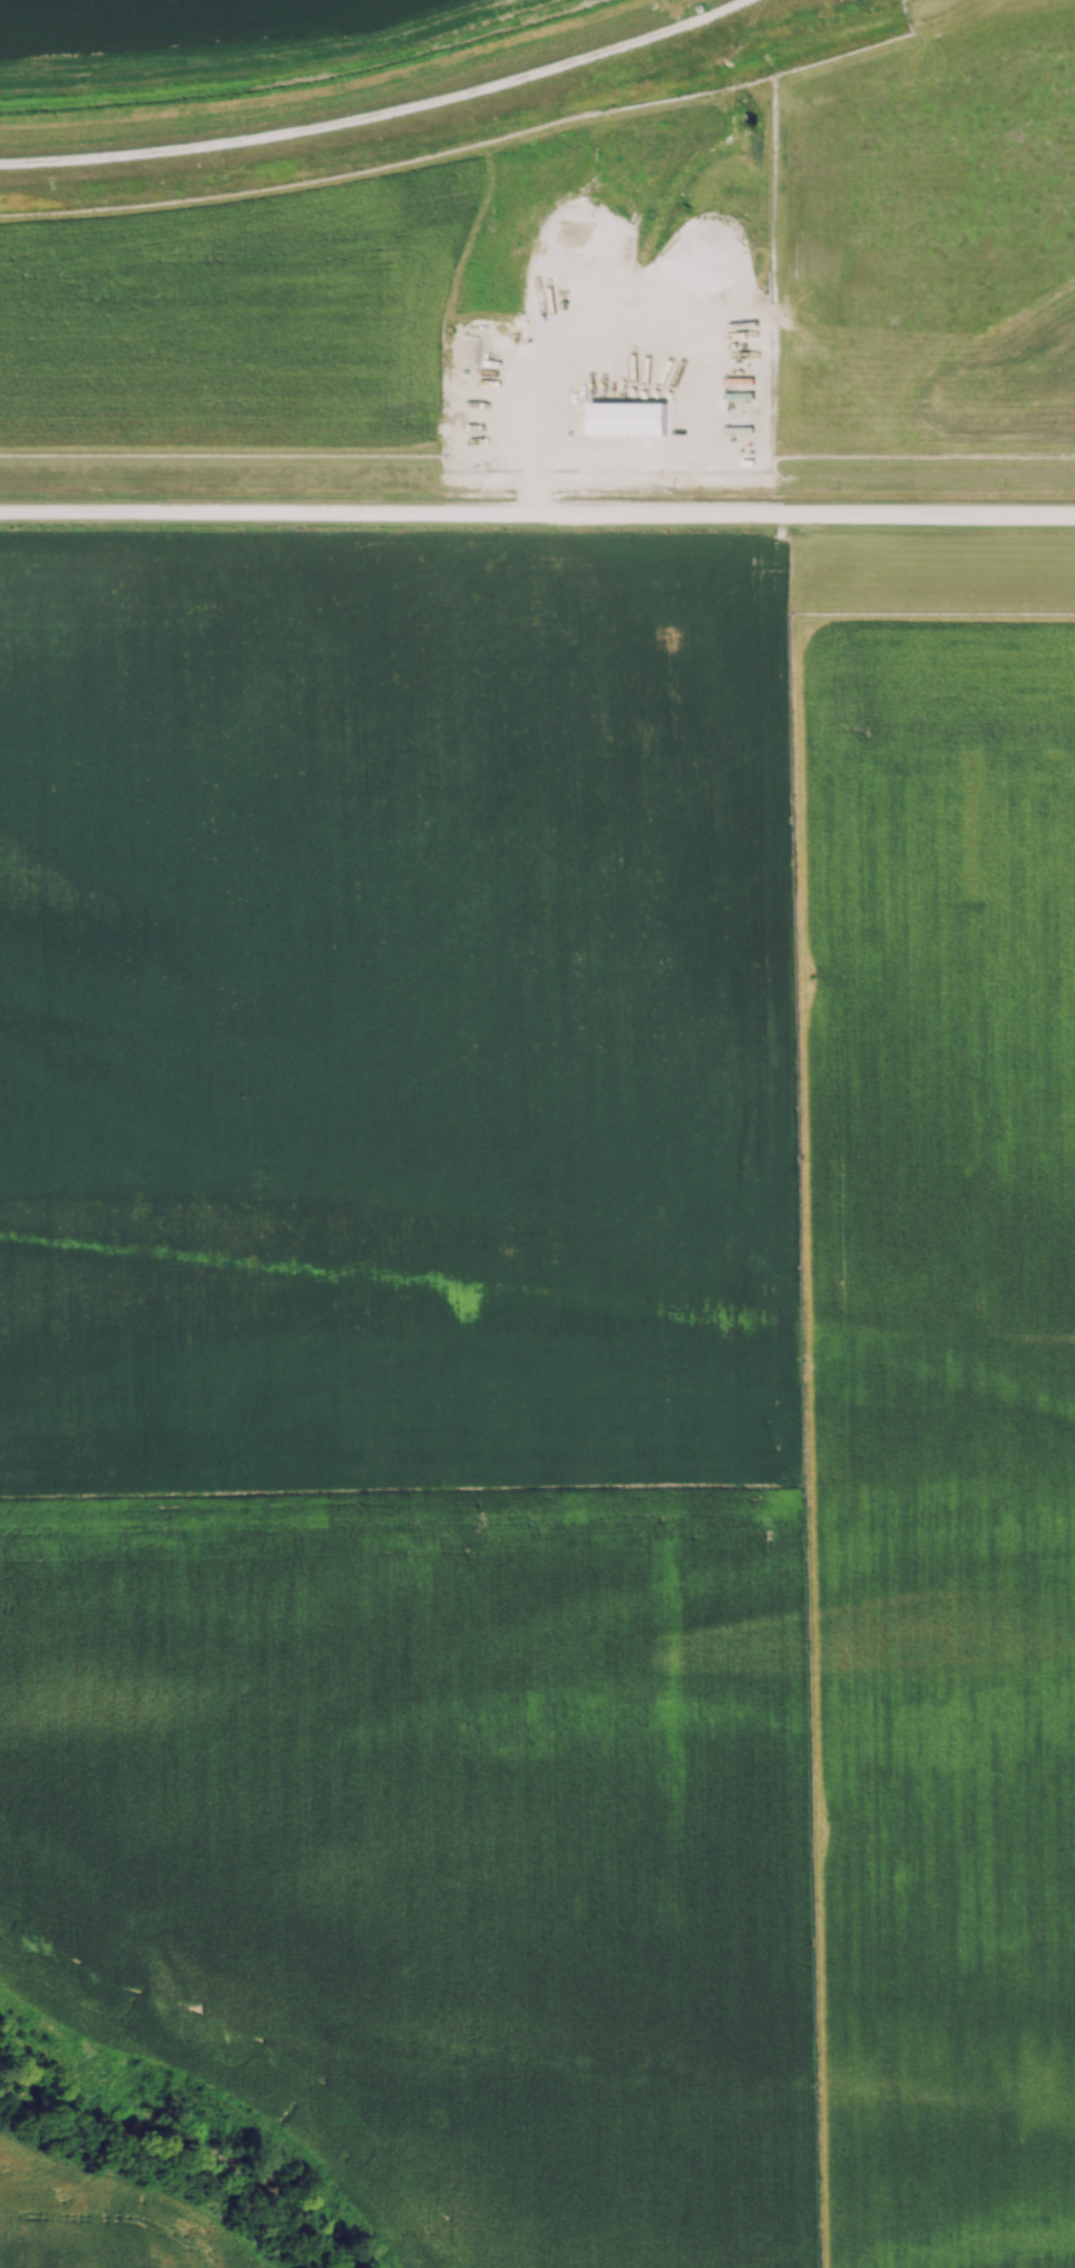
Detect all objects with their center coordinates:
road: (350, 88)
road: (531, 455)
road: (537, 512)

